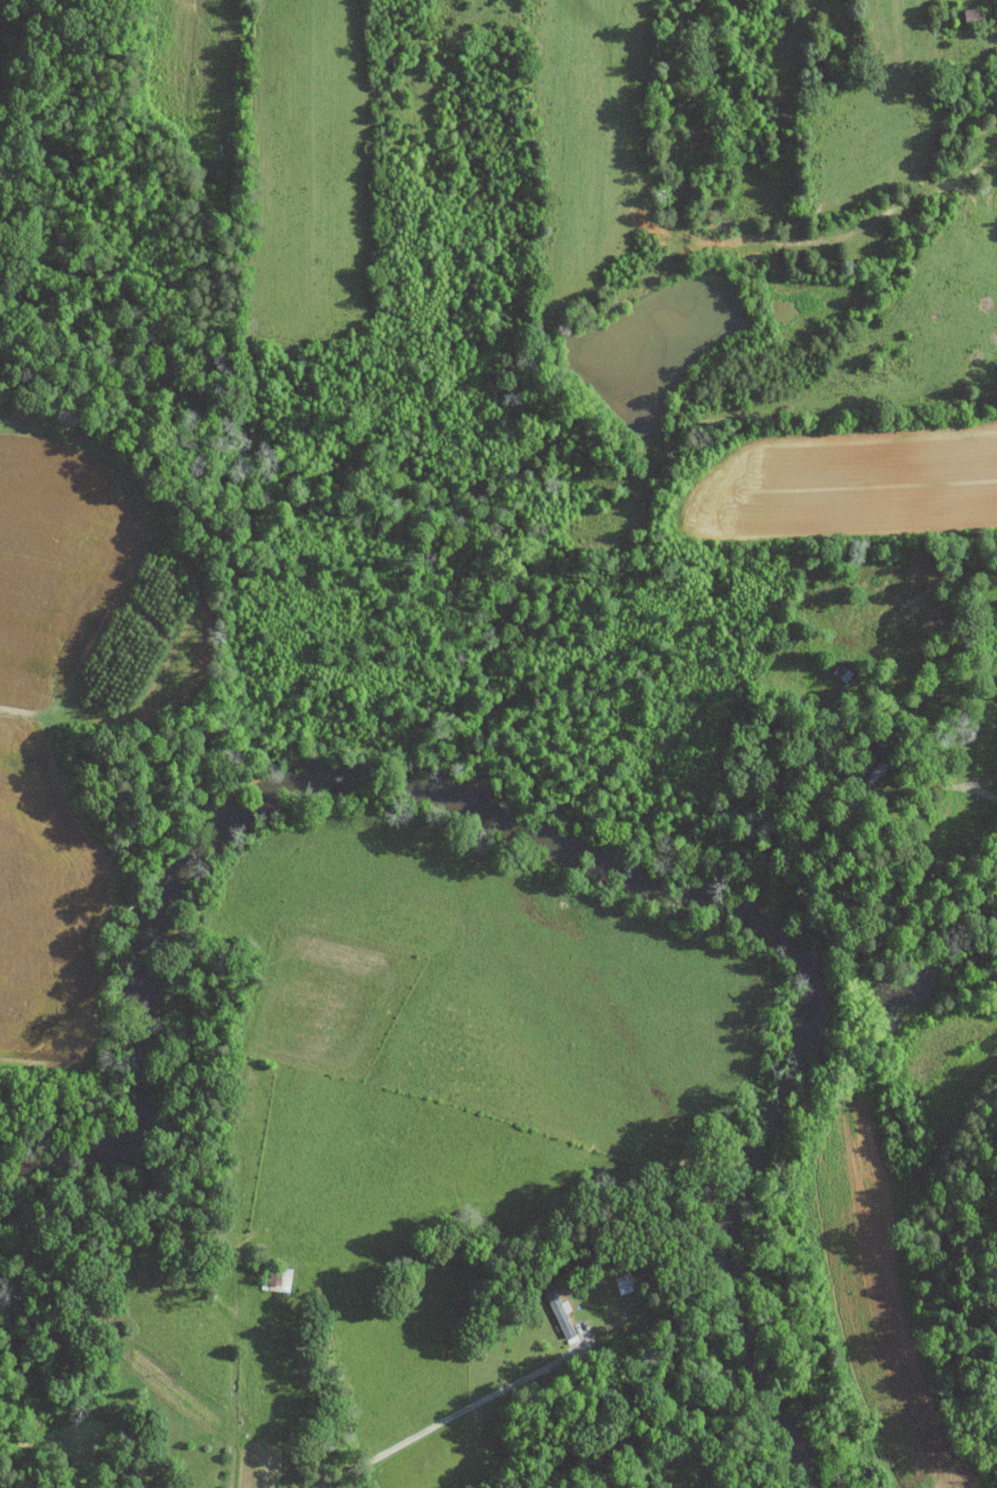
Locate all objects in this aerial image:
road: (436, 1425)
road: (233, 1448)

